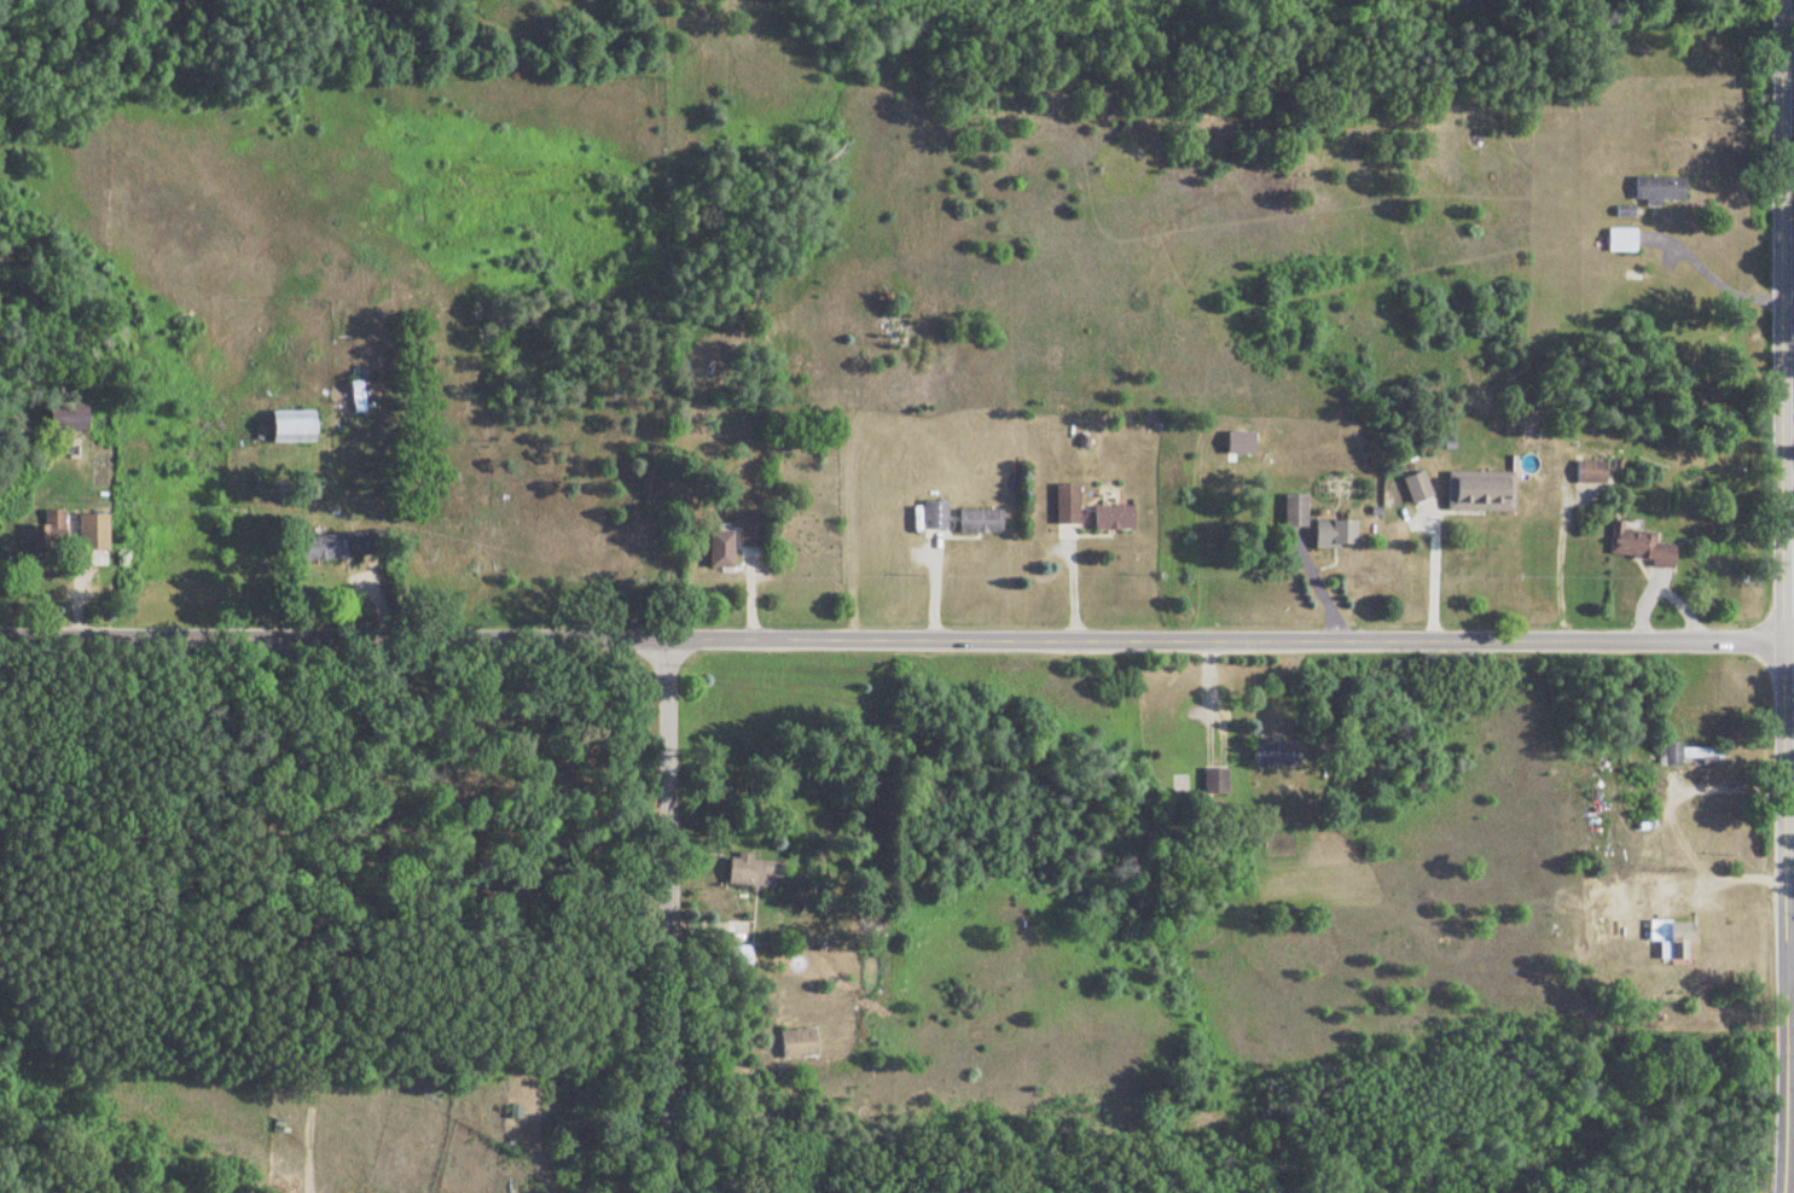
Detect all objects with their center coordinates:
building: (1655, 190)
building: (1616, 240)
building: (354, 396)
building: (292, 427)
building: (1587, 472)
building: (1412, 488)
building: (1476, 491)
building: (1063, 504)
building: (1290, 513)
building: (931, 514)
building: (1110, 518)
building: (976, 520)
building: (91, 531)
building: (1331, 533)
building: (1635, 545)
building: (719, 551)
road: (74, 570)
road: (1430, 572)
road: (1772, 596)
road: (887, 638)
road: (1783, 644)
building: (1273, 753)
building: (1685, 755)
building: (1213, 785)
building: (750, 873)
road: (652, 914)
building: (1679, 941)
road: (1786, 972)
building: (796, 1044)

